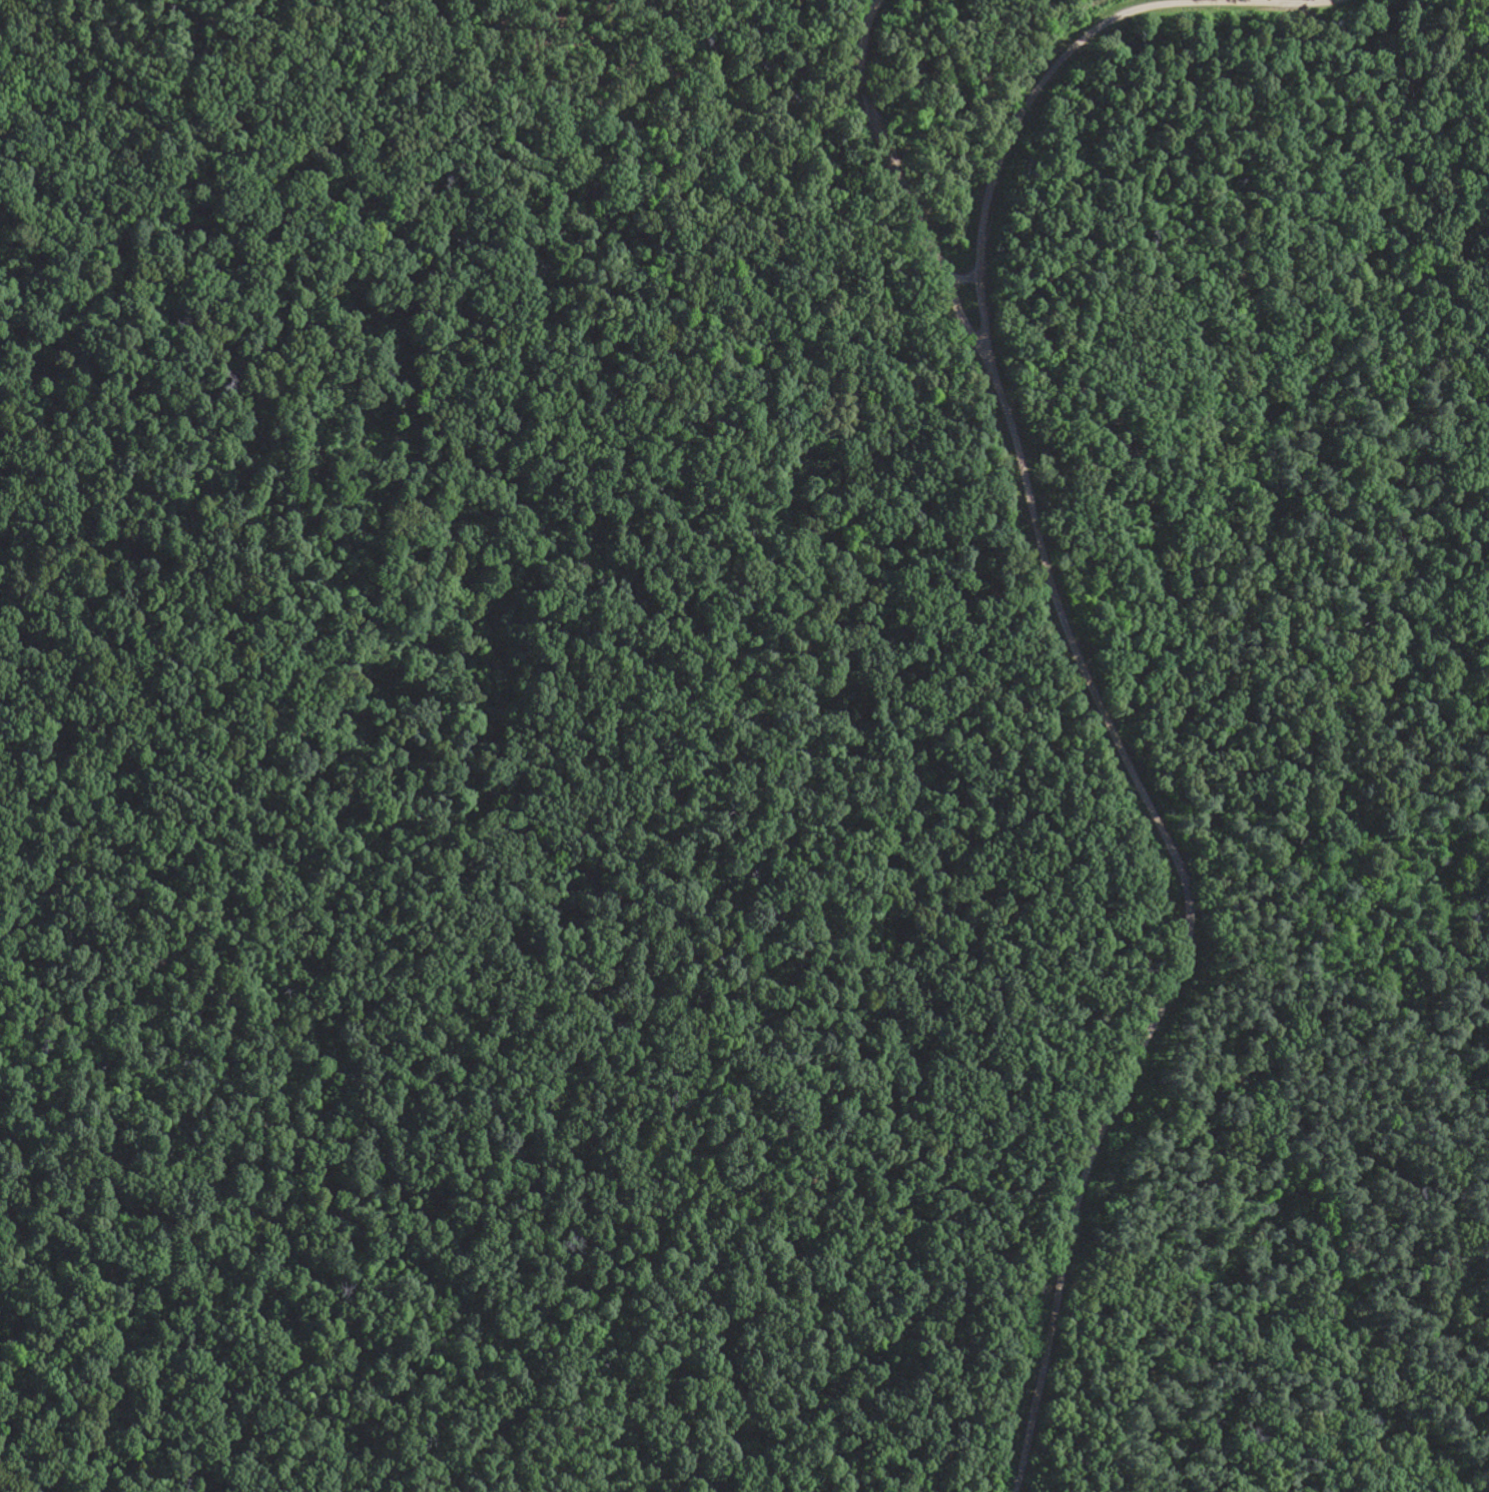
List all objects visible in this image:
road: (1057, 68)
road: (899, 180)
road: (1190, 914)

